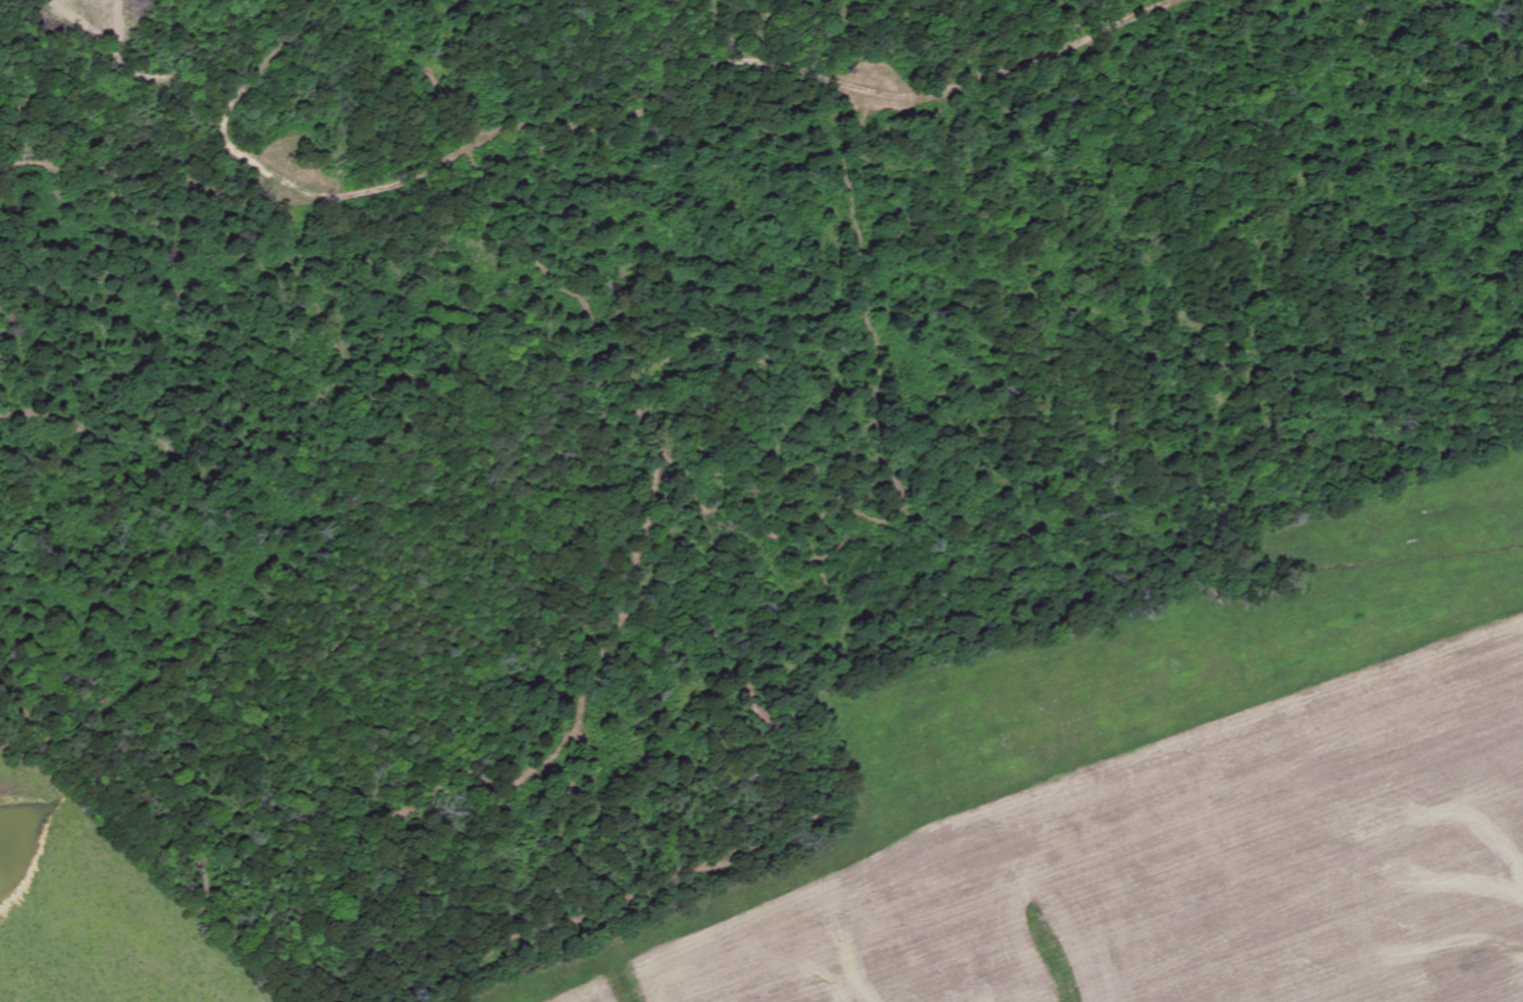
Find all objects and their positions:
road: (1413, 948)

